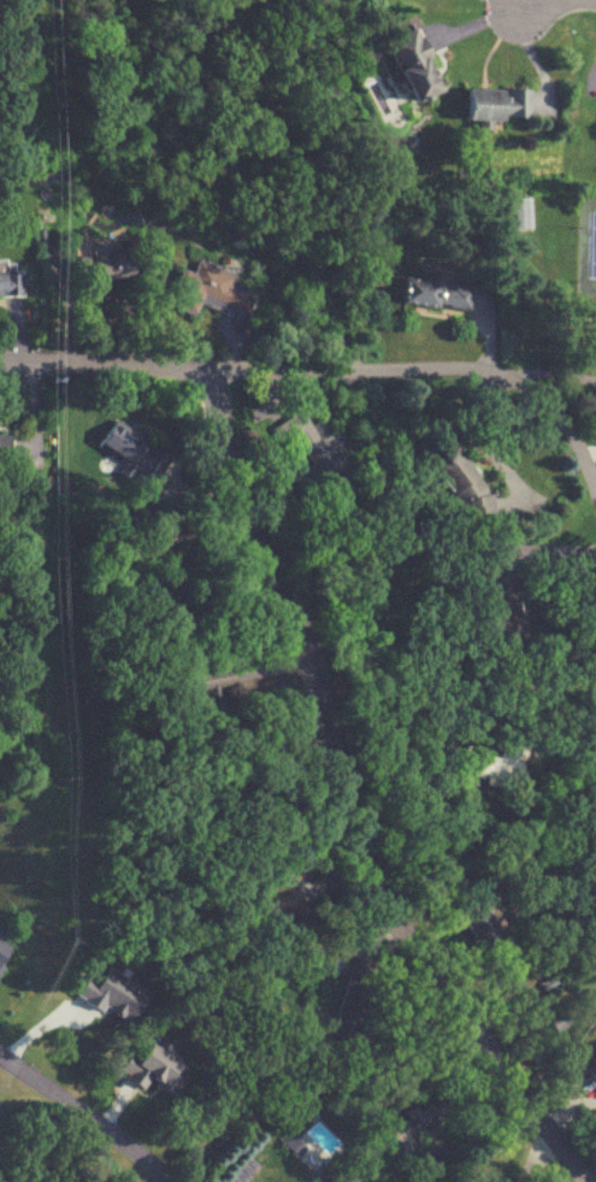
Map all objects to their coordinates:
road: (511, 5)
road: (537, 5)
building: (407, 65)
park: (20, 83)
park: (20, 83)
building: (489, 104)
building: (518, 212)
building: (94, 267)
building: (8, 283)
building: (207, 292)
building: (436, 293)
road: (108, 299)
road: (326, 367)
road: (553, 371)
road: (492, 440)
building: (117, 442)
building: (2, 447)
road: (590, 452)
building: (309, 455)
building: (152, 467)
building: (459, 481)
building: (161, 599)
building: (498, 605)
road: (530, 681)
building: (507, 764)
road: (337, 806)
building: (279, 894)
building: (477, 931)
building: (350, 1008)
building: (592, 1074)
road: (87, 1115)
building: (419, 1116)
building: (594, 1121)
building: (418, 1168)
building: (332, 1174)

